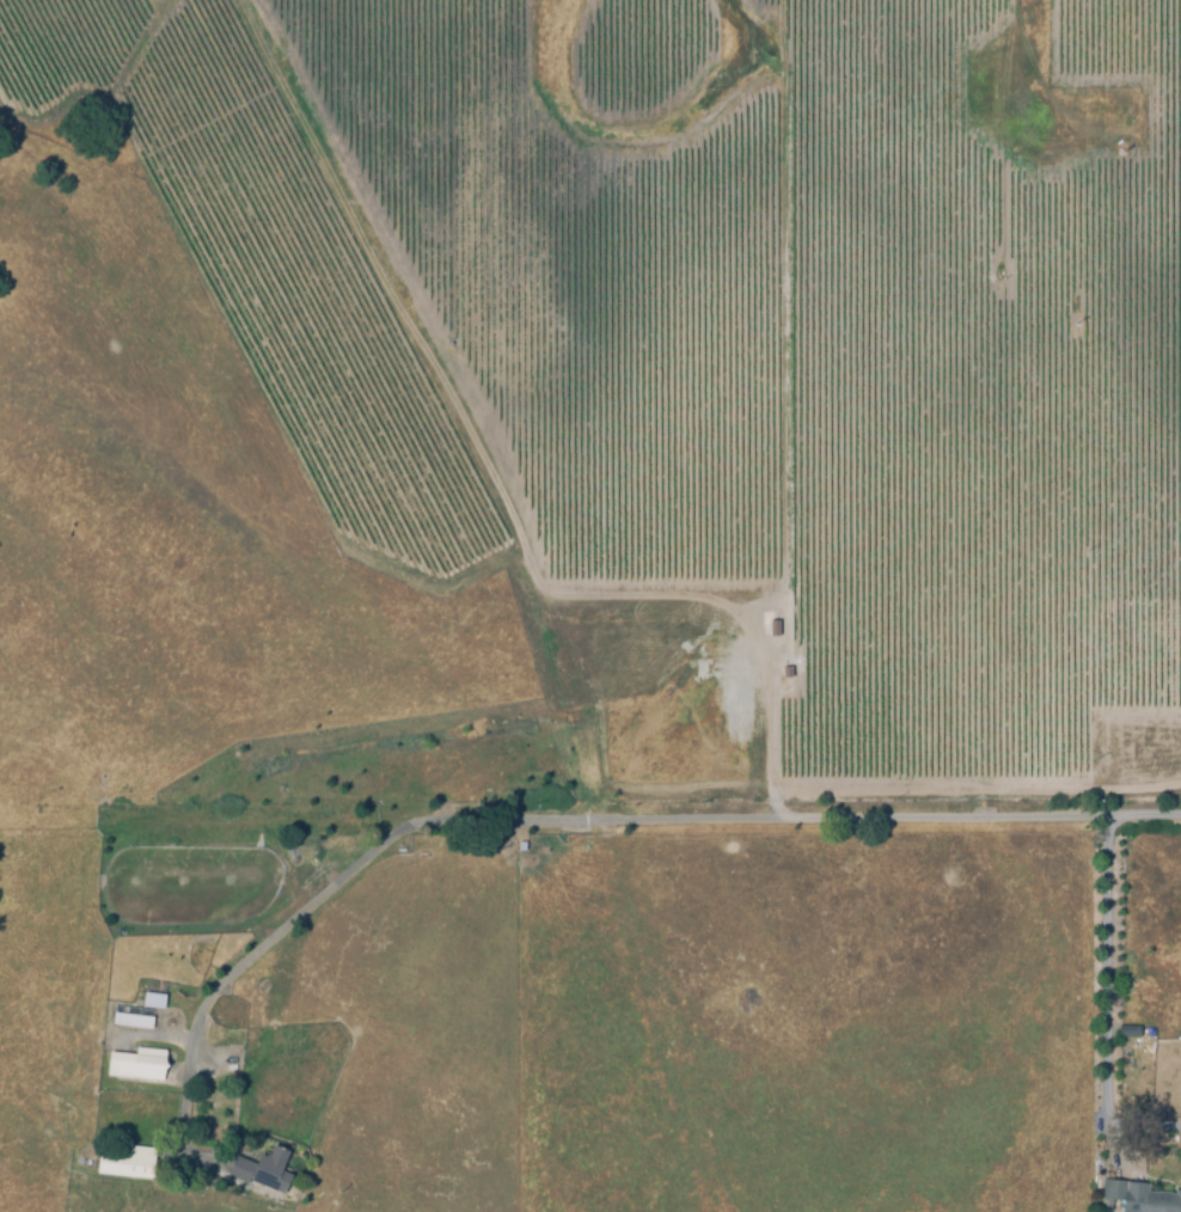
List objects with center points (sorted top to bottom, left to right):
road: (772, 734)
road: (599, 822)
building: (538, 845)
building: (522, 847)
road: (1104, 971)
building: (154, 1003)
building: (134, 1024)
building: (1128, 1033)
building: (139, 1065)
building: (129, 1165)
building: (263, 1171)
building: (1139, 1198)

